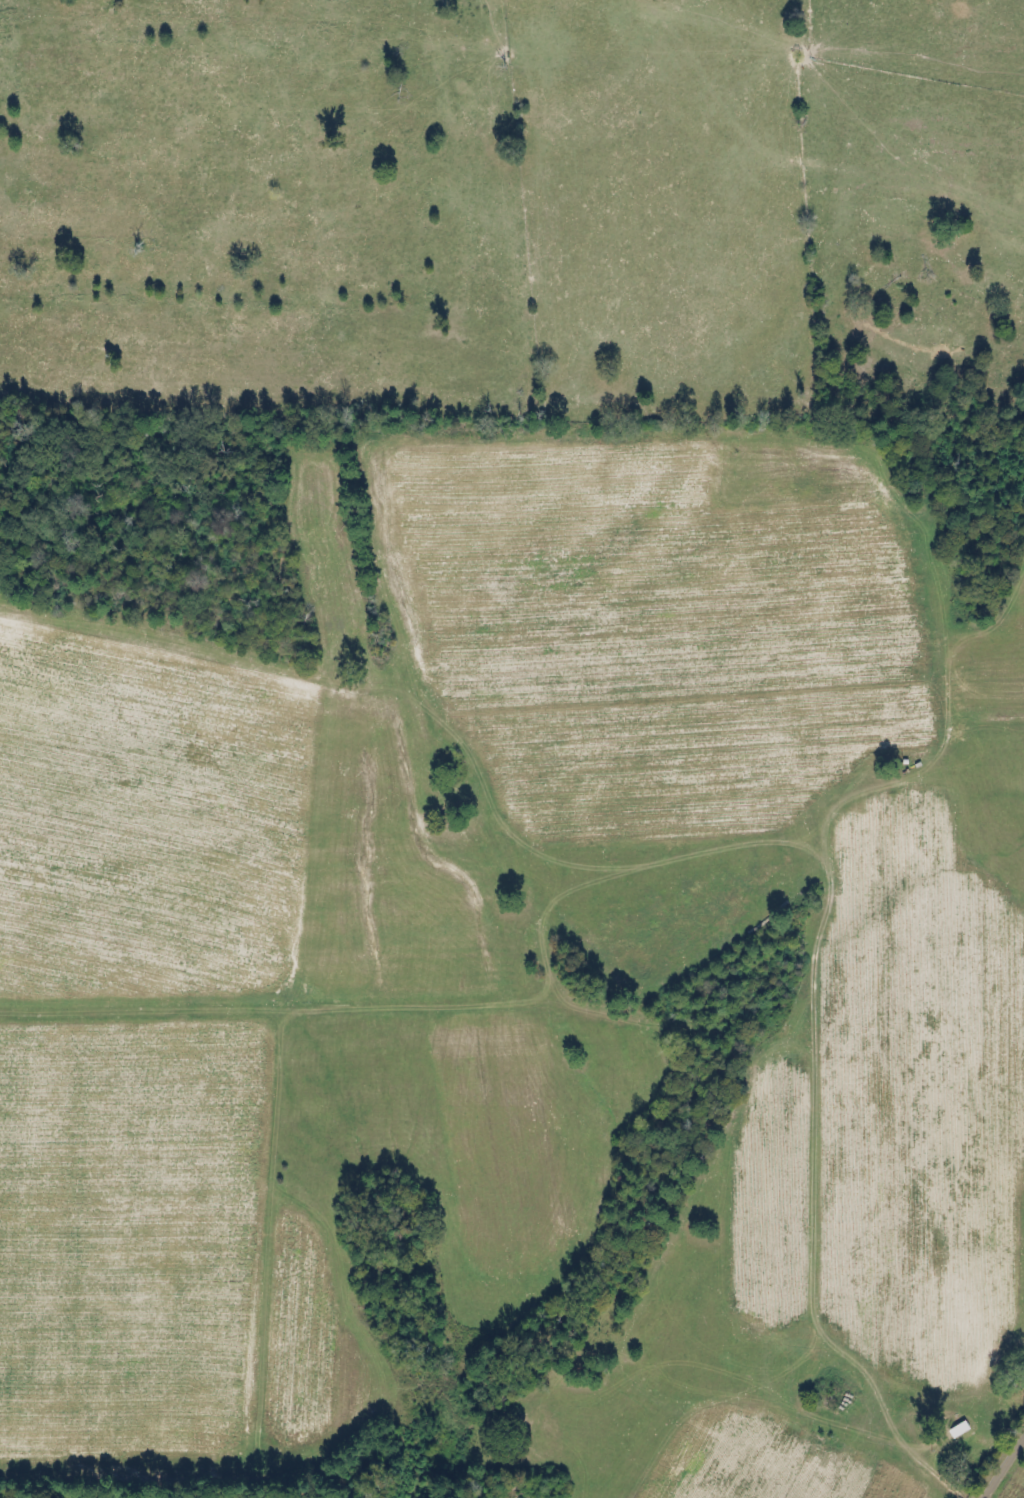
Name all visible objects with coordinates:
road: (998, 1458)

